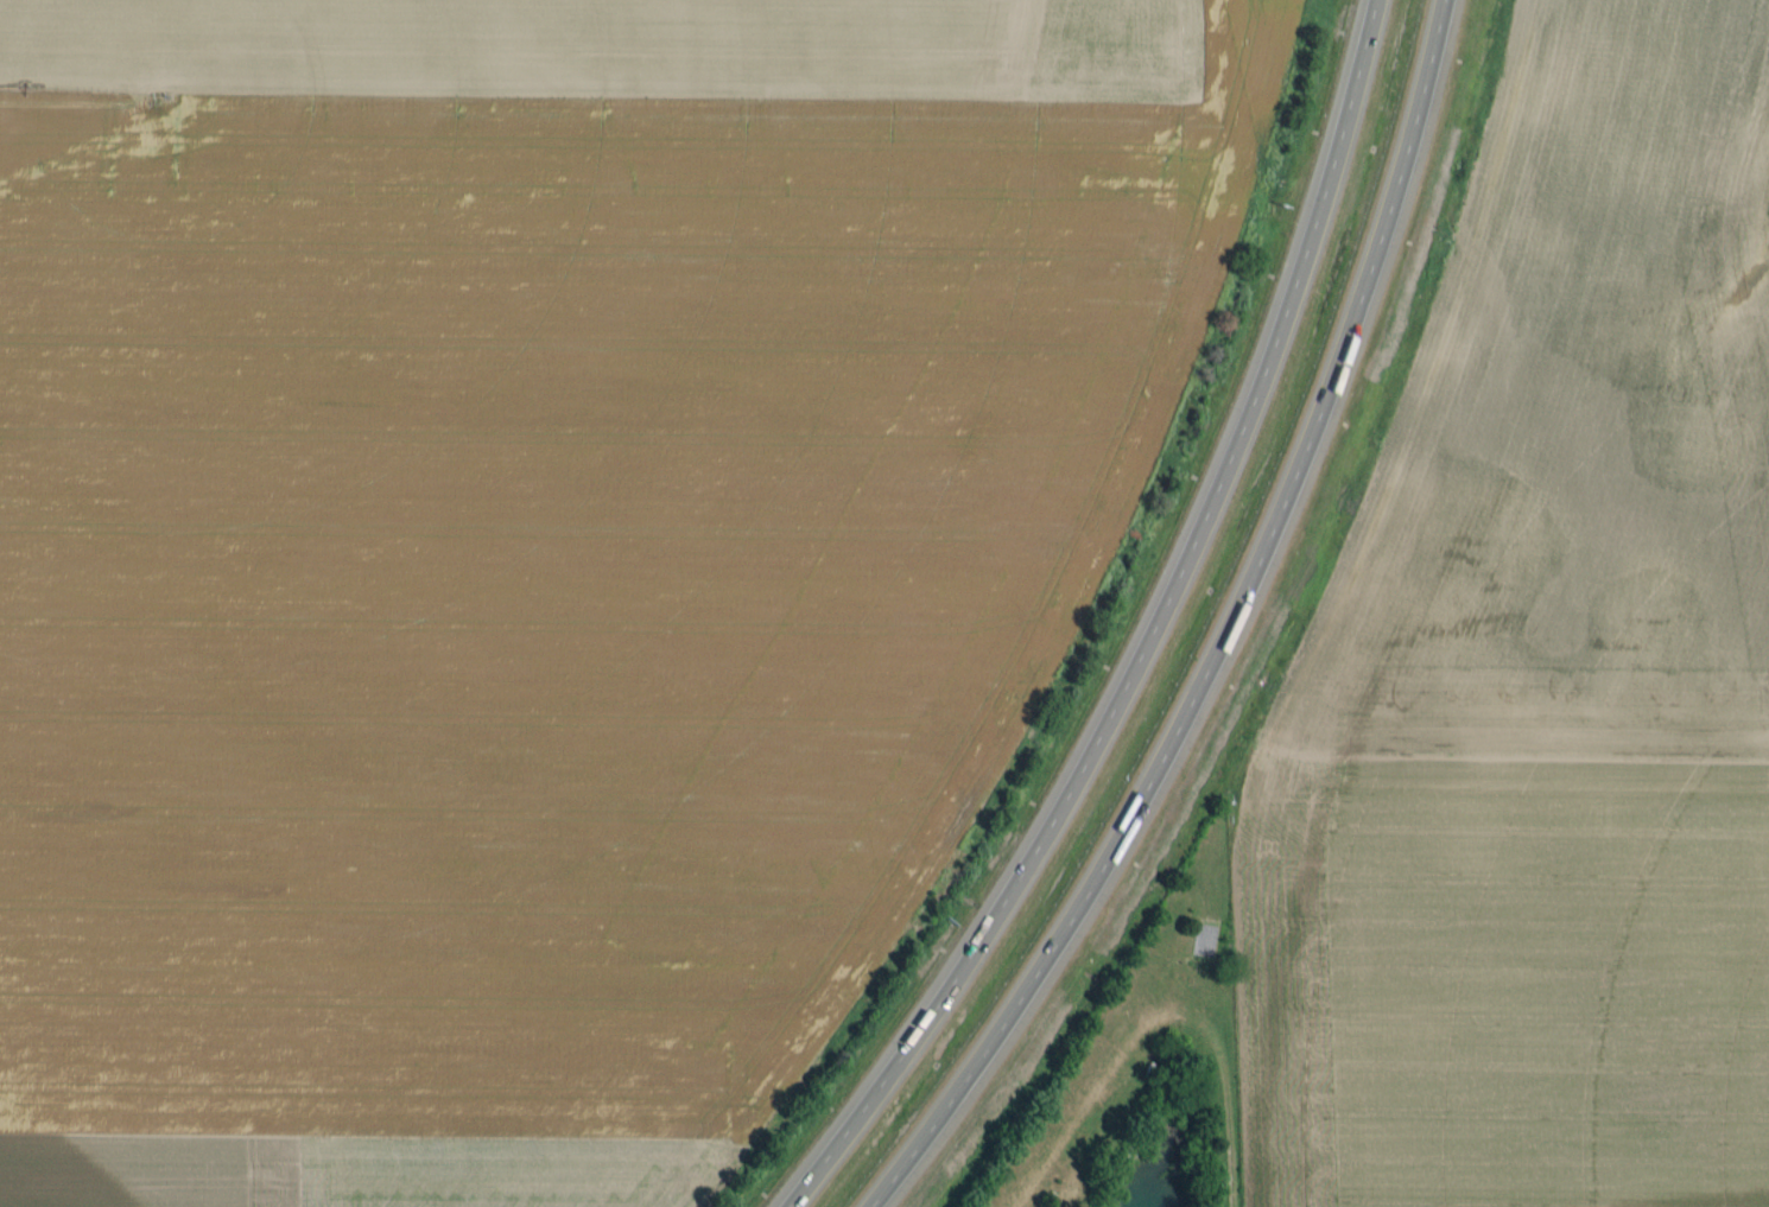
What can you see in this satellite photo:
road: (1220, 635)
road: (1147, 636)

